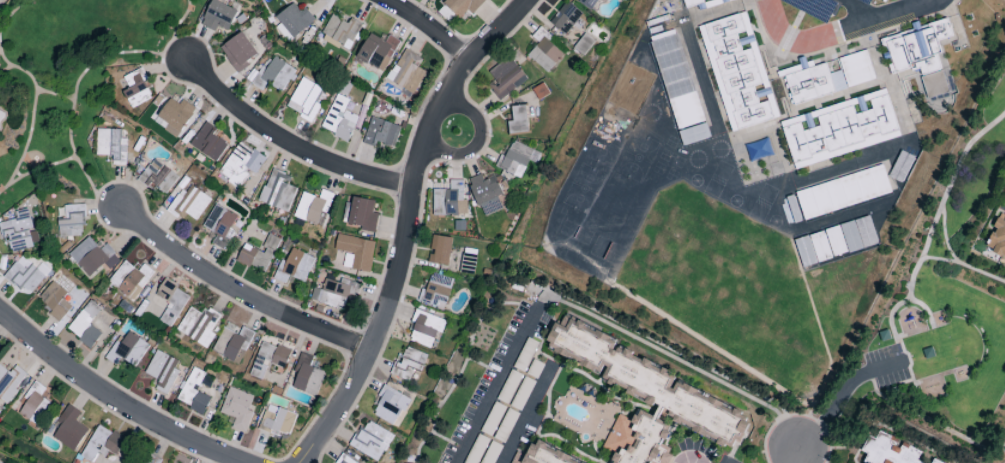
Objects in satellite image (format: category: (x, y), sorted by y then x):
building: (587, 3)
building: (462, 6)
parking lot: (835, 7)
road: (860, 8)
building: (218, 16)
building: (565, 17)
building: (295, 19)
road: (429, 26)
building: (340, 32)
road: (840, 32)
road: (841, 46)
building: (917, 49)
building: (238, 51)
building: (377, 51)
building: (544, 51)
building: (856, 69)
building: (406, 71)
building: (737, 72)
building: (273, 75)
building: (505, 77)
building: (677, 81)
building: (811, 81)
building: (136, 88)
building: (304, 99)
building: (175, 115)
building: (340, 118)
building: (518, 121)
building: (380, 133)
building: (693, 134)
road: (479, 140)
road: (290, 141)
building: (208, 142)
building: (111, 145)
building: (516, 159)
building: (240, 164)
building: (158, 177)
building: (277, 191)
building: (842, 192)
building: (486, 193)
building: (449, 200)
building: (186, 201)
road: (1003, 206)
building: (311, 207)
building: (362, 214)
building: (71, 221)
building: (219, 225)
road: (406, 226)
building: (19, 232)
road: (933, 232)
building: (858, 234)
road: (946, 238)
building: (997, 239)
building: (835, 241)
building: (820, 246)
building: (439, 250)
building: (804, 251)
building: (355, 252)
building: (258, 254)
building: (93, 256)
building: (467, 263)
road: (964, 265)
building: (293, 267)
building: (24, 275)
building: (130, 279)
building: (435, 291)
road: (239, 292)
building: (330, 294)
building: (55, 301)
park: (945, 302)
building: (85, 325)
building: (198, 326)
building: (426, 330)
building: (232, 342)
building: (126, 350)
building: (268, 358)
building: (408, 363)
parking lot: (886, 366)
building: (162, 371)
building: (306, 376)
building: (10, 382)
road: (495, 382)
building: (193, 392)
building: (644, 392)
road: (116, 399)
building: (35, 404)
road: (840, 405)
building: (386, 406)
building: (237, 409)
road: (525, 416)
building: (277, 421)
building: (68, 428)
building: (370, 441)
building: (101, 443)
road: (691, 450)
building: (887, 450)
building: (151, 459)
road: (789, 459)
building: (346, 462)

